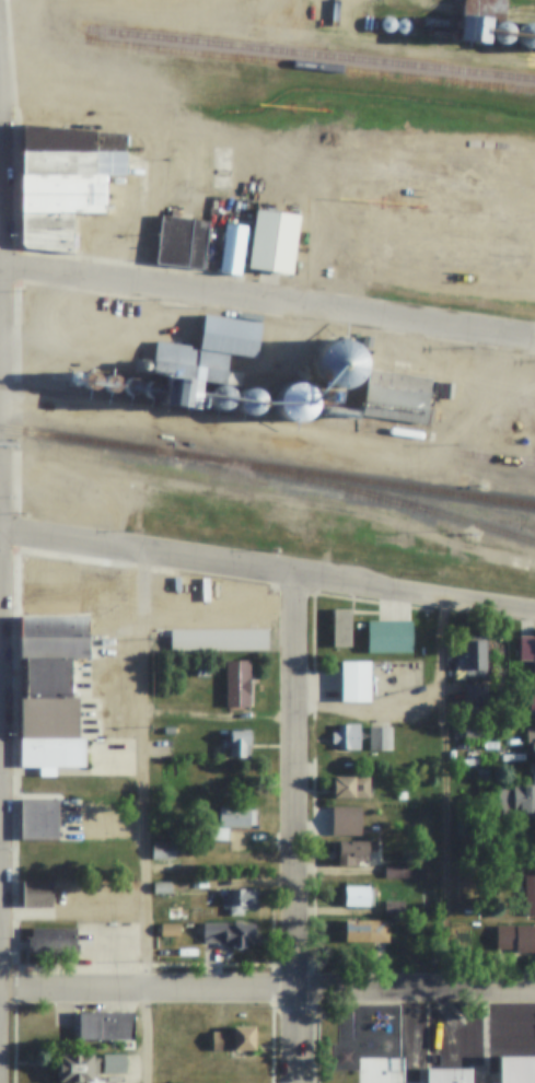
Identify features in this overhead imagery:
building: (386, 23)
silo: (386, 23)
building: (400, 25)
silo: (400, 25)
railway: (275, 27)
building: (474, 28)
building: (502, 31)
silo: (502, 31)
building: (526, 34)
silo: (526, 34)
railway: (267, 61)
building: (69, 139)
road: (365, 150)
building: (73, 161)
building: (418, 180)
silo: (418, 180)
building: (61, 182)
building: (443, 184)
silo: (443, 184)
building: (468, 186)
silo: (468, 186)
building: (492, 188)
silo: (492, 188)
building: (517, 191)
silo: (517, 191)
building: (533, 194)
silo: (533, 194)
building: (65, 202)
building: (48, 219)
building: (445, 223)
silo: (445, 223)
building: (49, 237)
building: (174, 241)
building: (274, 241)
building: (197, 244)
building: (232, 248)
building: (213, 251)
building: (396, 267)
silo: (396, 267)
building: (495, 268)
building: (424, 271)
silo: (424, 271)
building: (454, 276)
silo: (454, 276)
building: (482, 280)
silo: (482, 280)
building: (512, 283)
silo: (512, 283)
building: (532, 287)
silo: (532, 287)
road: (267, 301)
building: (230, 335)
building: (189, 362)
building: (340, 362)
silo: (340, 362)
building: (400, 364)
silo: (400, 364)
building: (415, 365)
silo: (415, 365)
building: (72, 379)
silo: (72, 379)
building: (89, 381)
silo: (89, 381)
building: (109, 384)
silo: (109, 384)
building: (129, 386)
silo: (129, 386)
building: (177, 389)
building: (151, 391)
silo: (151, 391)
building: (396, 395)
building: (219, 397)
silo: (219, 397)
building: (248, 401)
silo: (248, 401)
building: (294, 401)
silo: (294, 401)
railway: (267, 426)
storage tank: (406, 431)
railway: (267, 465)
railway: (248, 480)
railway: (359, 489)
road: (267, 573)
building: (73, 587)
building: (233, 621)
building: (56, 626)
building: (341, 628)
building: (391, 637)
building: (56, 647)
building: (527, 650)
building: (472, 656)
building: (201, 672)
power substation: (394, 676)
building: (49, 678)
building: (356, 682)
building: (237, 684)
building: (473, 700)
building: (532, 702)
building: (73, 729)
building: (473, 731)
building: (347, 737)
building: (380, 738)
building: (531, 742)
building: (239, 744)
building: (54, 752)
building: (350, 788)
building: (42, 790)
building: (400, 795)
building: (517, 796)
road: (450, 797)
road: (143, 818)
building: (40, 819)
building: (230, 823)
road: (302, 830)
building: (163, 851)
building: (351, 851)
building: (405, 871)
building: (162, 888)
building: (38, 894)
building: (530, 894)
building: (357, 895)
building: (239, 901)
building: (394, 908)
building: (170, 931)
building: (364, 931)
building: (230, 933)
building: (516, 938)
building: (53, 941)
building: (432, 951)
road: (267, 992)
building: (106, 1026)
building: (234, 1039)
building: (88, 1067)
building: (517, 1069)
building: (450, 1075)

